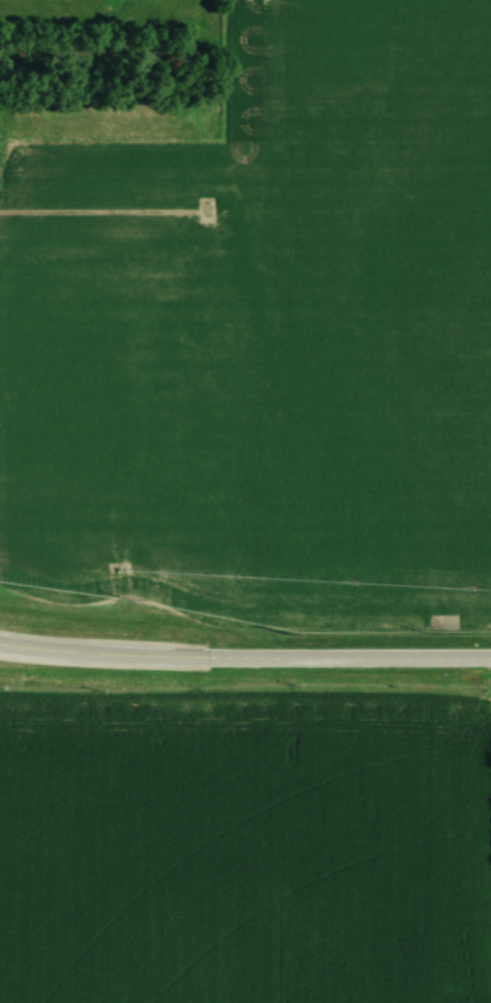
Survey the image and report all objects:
crop: (263, 335)
road: (245, 649)

